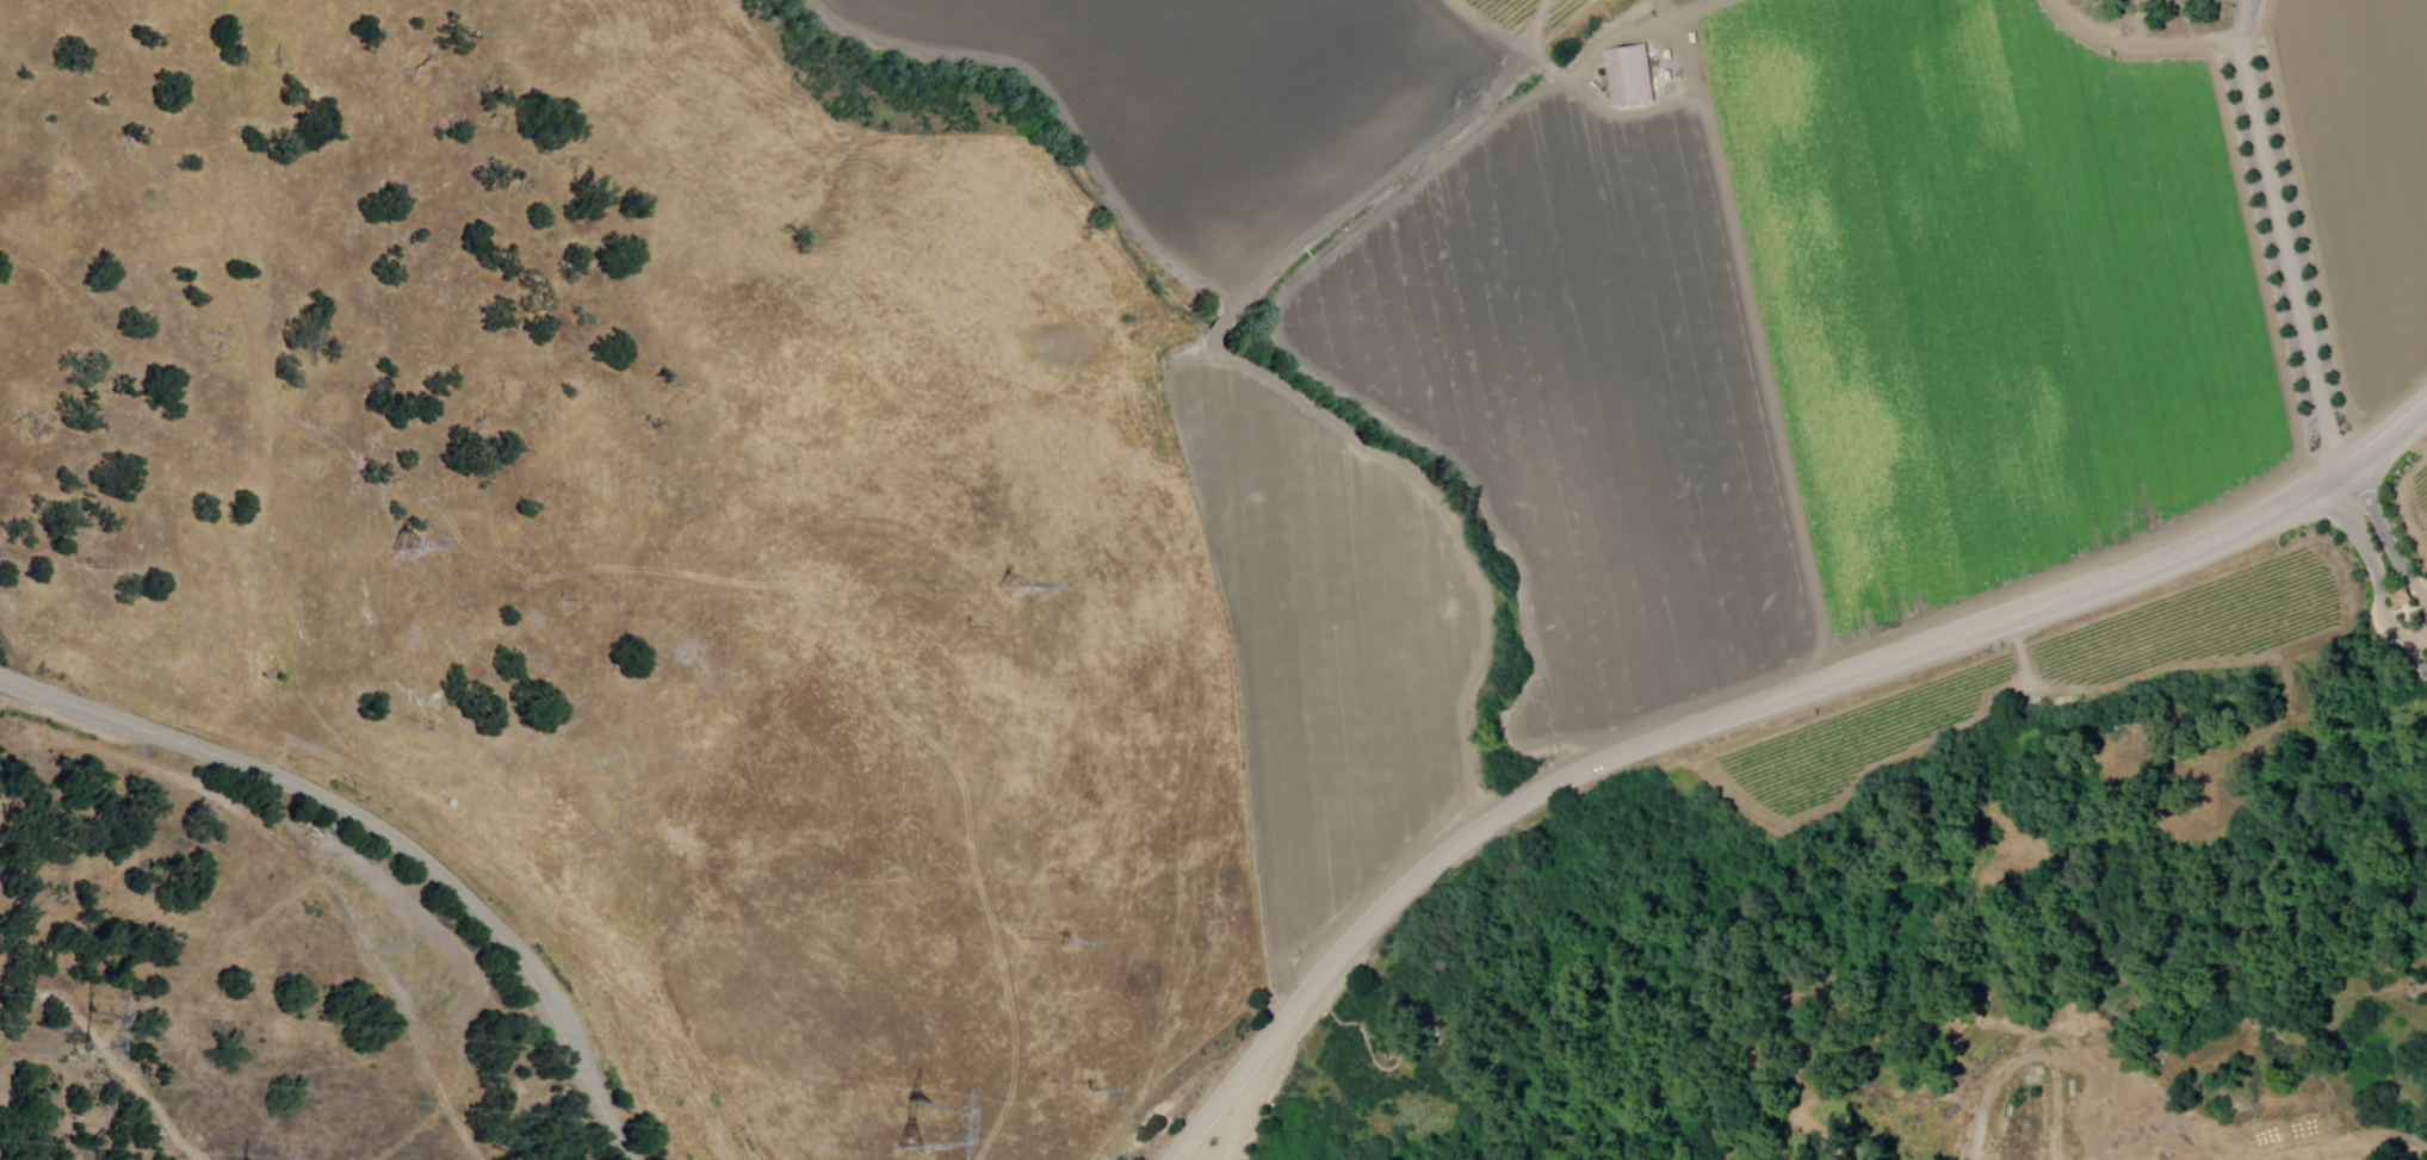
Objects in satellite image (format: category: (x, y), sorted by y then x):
crop: (1678, 1)
building: (1633, 75)
crop: (1225, 100)
crop: (2361, 174)
road: (2284, 236)
crop: (1993, 289)
crop: (1642, 331)
crop: (1587, 402)
road: (2389, 531)
power tower: (410, 548)
road: (2376, 575)
power tower: (1024, 577)
building: (2403, 597)
crop: (1329, 641)
road: (1747, 709)
road: (215, 794)
road: (384, 830)
power tower: (1076, 943)
road: (211, 960)
road: (379, 972)
power tower: (70, 1038)
road: (122, 1073)
power tower: (1089, 1092)
power tower: (899, 1131)
crop: (2408, 1148)

